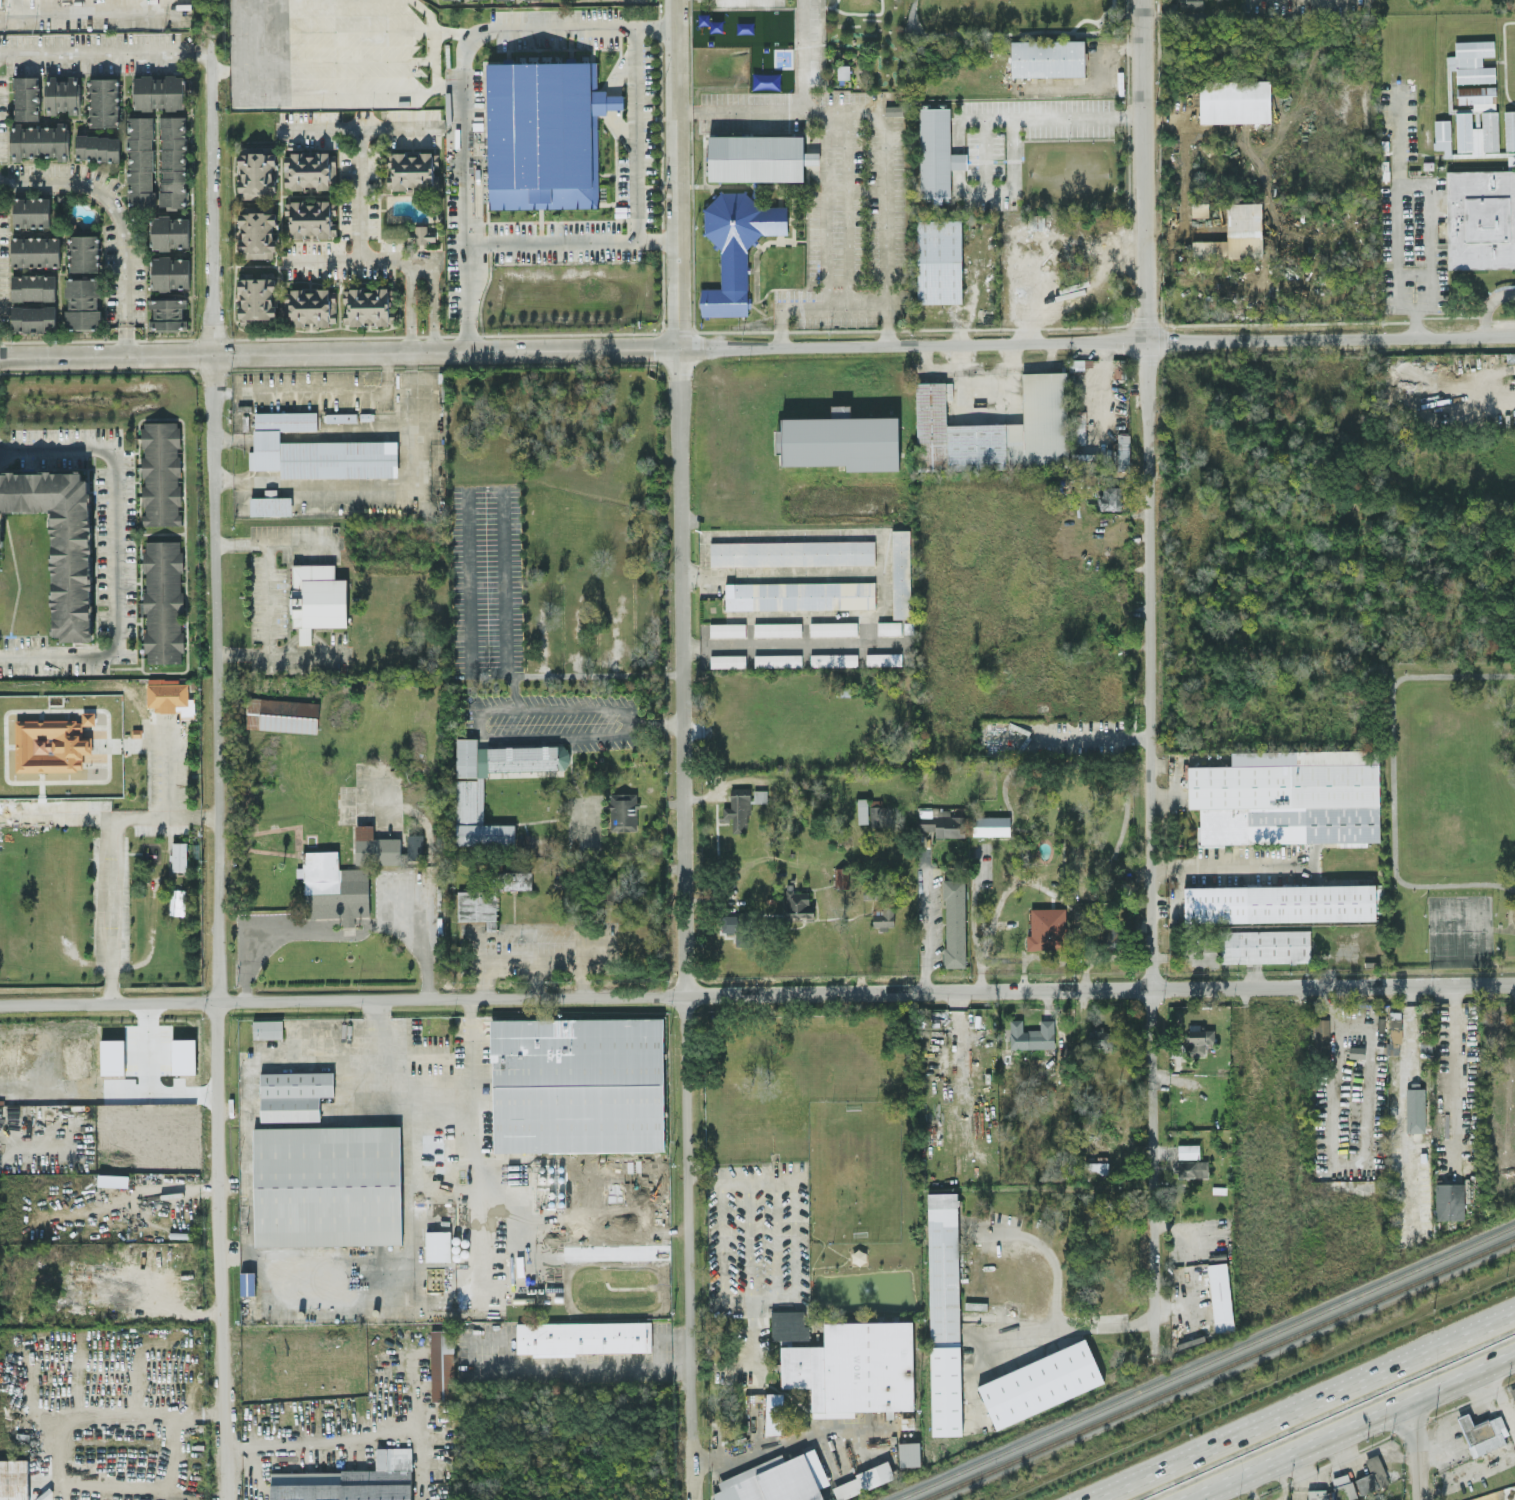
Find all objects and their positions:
building: (0, 2)
building: (1188, 3)
road: (107, 11)
road: (6, 15)
road: (352, 28)
road: (438, 28)
building: (775, 31)
road: (239, 45)
road: (108, 52)
road: (798, 56)
building: (1047, 57)
road: (349, 59)
building: (1471, 61)
building: (842, 71)
road: (240, 80)
road: (465, 86)
road: (353, 90)
building: (158, 91)
building: (60, 94)
building: (1477, 96)
building: (26, 97)
building: (1234, 100)
building: (104, 101)
building: (893, 109)
road: (1054, 116)
road: (362, 119)
road: (881, 128)
building: (1509, 129)
road: (634, 132)
building: (543, 133)
building: (1442, 136)
building: (39, 140)
building: (97, 147)
building: (936, 152)
building: (757, 157)
building: (140, 159)
building: (173, 161)
building: (308, 169)
building: (411, 169)
building: (256, 172)
road: (682, 173)
road: (1435, 184)
road: (358, 189)
road: (998, 190)
road: (864, 191)
road: (824, 208)
road: (845, 208)
building: (1199, 209)
building: (30, 211)
road: (122, 213)
building: (1480, 217)
building: (309, 218)
building: (169, 231)
building: (257, 232)
building: (1235, 234)
road: (574, 241)
building: (735, 246)
building: (34, 251)
building: (84, 252)
building: (938, 260)
building: (169, 272)
building: (32, 286)
building: (257, 297)
building: (82, 302)
road: (1487, 304)
building: (312, 305)
building: (365, 305)
road: (812, 306)
building: (167, 313)
building: (32, 317)
road: (1415, 320)
road: (757, 345)
road: (965, 383)
road: (312, 389)
building: (839, 410)
building: (340, 416)
road: (418, 426)
building: (1077, 426)
building: (995, 429)
building: (840, 441)
building: (316, 450)
building: (1122, 451)
building: (1083, 459)
building: (160, 472)
road: (487, 486)
building: (1110, 498)
building: (270, 505)
building: (59, 541)
road: (268, 543)
road: (112, 551)
building: (792, 552)
road: (790, 572)
building: (900, 573)
road: (894, 576)
building: (799, 595)
building: (317, 598)
building: (163, 602)
road: (266, 625)
building: (888, 627)
building: (776, 628)
building: (832, 628)
building: (726, 629)
road: (797, 648)
building: (883, 658)
building: (777, 659)
building: (833, 659)
building: (727, 660)
road: (1153, 679)
building: (166, 693)
road: (987, 701)
road: (491, 709)
building: (49, 746)
road: (217, 750)
road: (165, 767)
building: (495, 769)
road: (1390, 779)
building: (759, 795)
building: (1288, 797)
building: (862, 809)
road: (60, 811)
building: (623, 811)
building: (737, 812)
building: (878, 815)
building: (940, 821)
building: (990, 824)
building: (484, 833)
building: (375, 846)
building: (178, 855)
road: (110, 857)
road: (1230, 866)
building: (841, 877)
building: (333, 887)
building: (177, 901)
building: (797, 903)
building: (1279, 903)
road: (1506, 912)
building: (882, 916)
road: (925, 922)
building: (954, 922)
road: (690, 923)
building: (738, 927)
building: (1047, 928)
road: (1503, 928)
park: (1457, 929)
road: (350, 932)
building: (1111, 938)
building: (1265, 945)
road: (532, 958)
road: (251, 965)
road: (757, 992)
building: (1502, 1025)
building: (265, 1028)
building: (1321, 1031)
building: (1394, 1033)
building: (1031, 1034)
road: (956, 1035)
building: (1099, 1039)
building: (1200, 1039)
road: (383, 1041)
building: (111, 1055)
building: (183, 1055)
road: (465, 1060)
building: (575, 1084)
building: (290, 1095)
building: (1414, 1111)
road: (1411, 1112)
road: (419, 1121)
building: (1188, 1150)
building: (1095, 1167)
building: (1191, 1168)
road: (707, 1172)
building: (325, 1185)
building: (1449, 1200)
road: (775, 1213)
road: (721, 1234)
building: (437, 1244)
road: (256, 1256)
building: (941, 1266)
building: (247, 1282)
road: (746, 1296)
building: (1220, 1296)
road: (1057, 1305)
building: (788, 1324)
road: (1069, 1326)
building: (581, 1336)
railway: (1204, 1362)
road: (169, 1363)
road: (586, 1363)
building: (442, 1364)
building: (852, 1367)
railway: (1218, 1368)
building: (1040, 1382)
building: (945, 1390)
building: (1512, 1391)
road: (1502, 1395)
road: (1308, 1408)
road: (200, 1410)
building: (773, 1412)
road: (1348, 1427)
road: (37, 1431)
building: (1483, 1432)
road: (304, 1437)
road: (1414, 1449)
road: (753, 1450)
building: (909, 1453)
building: (1372, 1475)
road: (1295, 1476)
building: (13, 1479)
building: (349, 1480)
building: (798, 1480)
building: (415, 1483)
building: (1341, 1488)
road: (1199, 1496)

